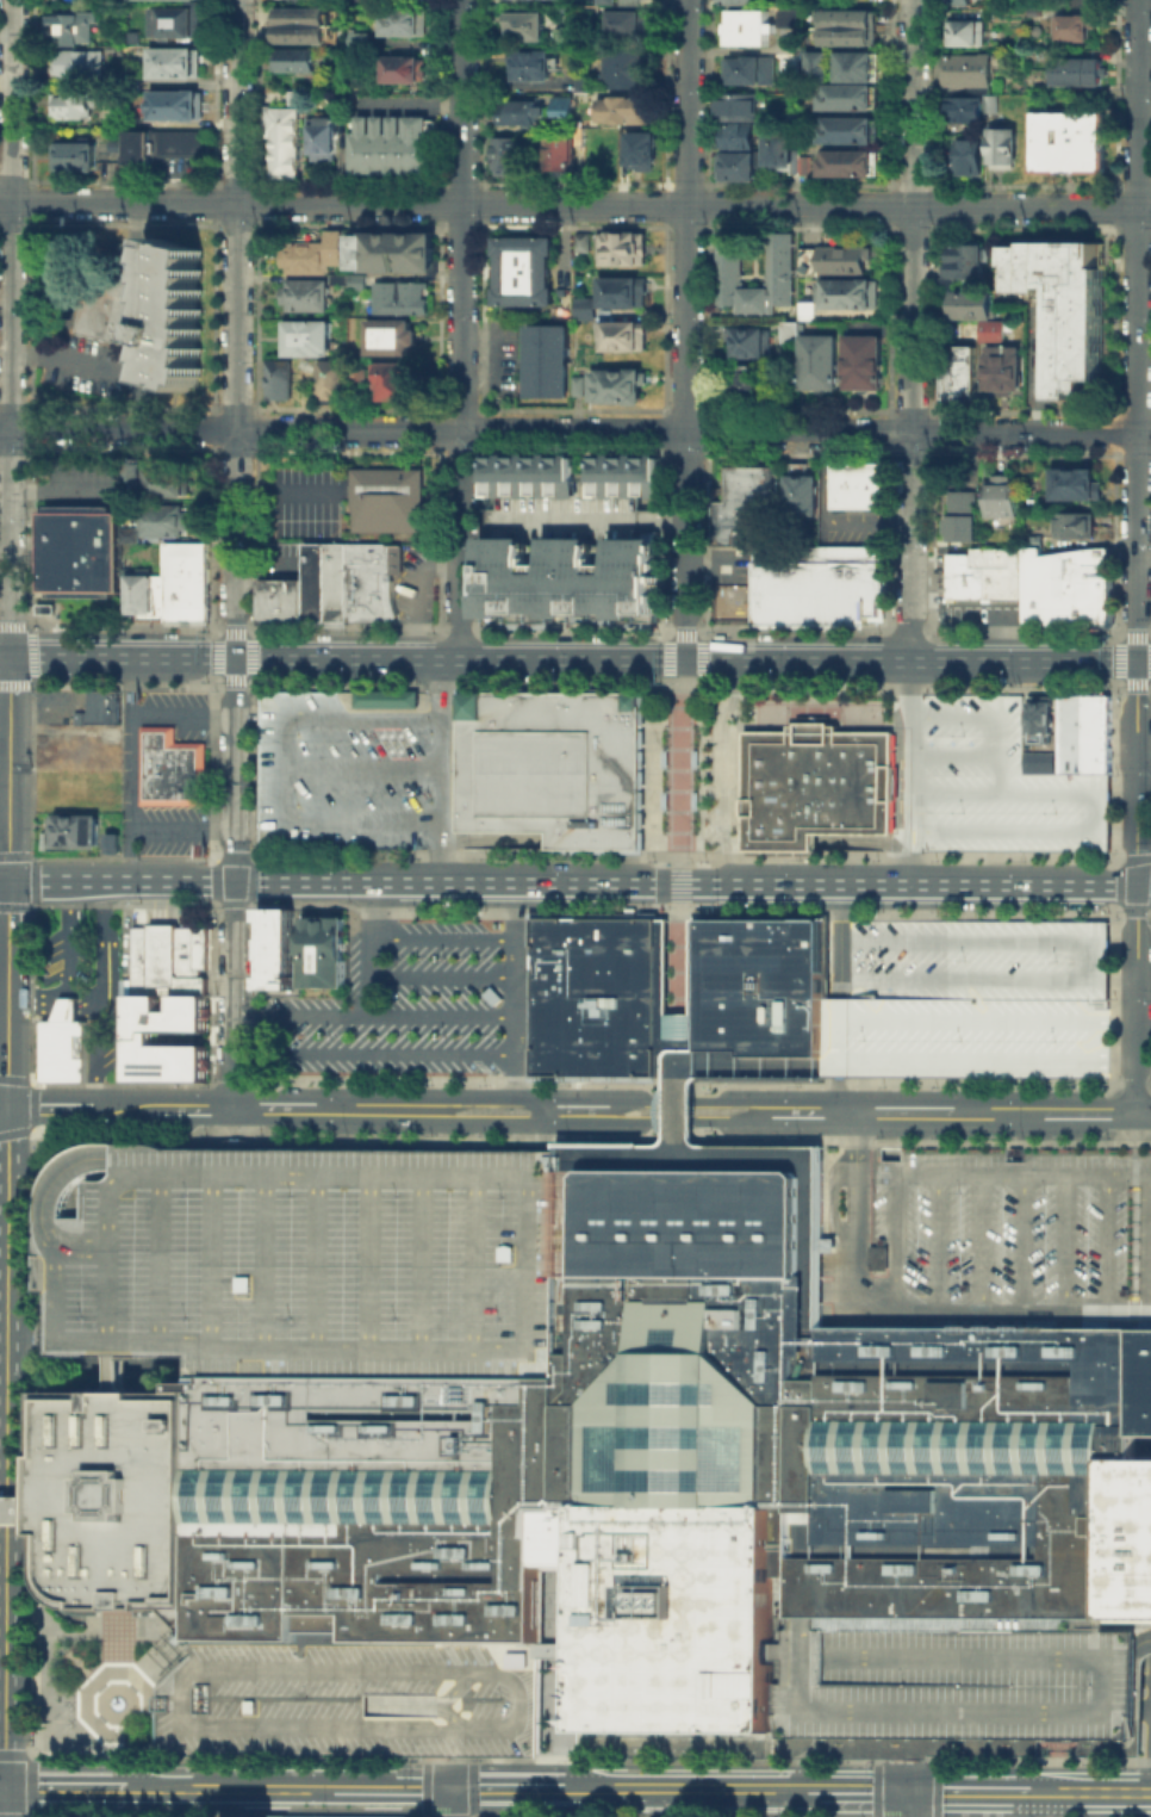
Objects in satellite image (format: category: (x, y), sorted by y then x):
building: (298, 0)
building: (1089, 0)
building: (603, 1)
building: (628, 1)
building: (735, 1)
building: (960, 1)
building: (592, 11)
building: (788, 15)
building: (176, 19)
building: (407, 21)
building: (73, 25)
building: (303, 25)
building: (632, 25)
building: (747, 25)
building: (1072, 25)
building: (527, 27)
building: (850, 30)
building: (964, 31)
building: (131, 36)
building: (363, 41)
building: (114, 48)
building: (174, 61)
building: (77, 62)
building: (295, 62)
building: (816, 64)
building: (853, 64)
building: (531, 66)
building: (622, 67)
building: (968, 69)
building: (1076, 70)
building: (407, 72)
building: (752, 72)
building: (132, 79)
building: (581, 81)
building: (846, 95)
building: (988, 101)
building: (73, 103)
building: (174, 103)
building: (736, 106)
building: (962, 106)
building: (564, 108)
building: (624, 111)
building: (523, 114)
building: (846, 128)
building: (287, 135)
building: (739, 136)
building: (614, 139)
building: (325, 142)
building: (1070, 142)
building: (113, 143)
building: (161, 143)
building: (391, 143)
building: (1001, 145)
building: (780, 147)
building: (643, 149)
building: (73, 154)
building: (560, 155)
building: (966, 155)
building: (509, 159)
building: (845, 161)
parking lot: (176, 166)
building: (738, 167)
road: (185, 168)
road: (574, 204)
road: (11, 213)
road: (137, 235)
building: (581, 240)
building: (621, 247)
building: (392, 250)
building: (315, 252)
building: (778, 259)
building: (833, 259)
building: (964, 260)
building: (521, 268)
building: (356, 280)
building: (942, 283)
building: (559, 290)
building: (621, 290)
building: (847, 291)
building: (398, 294)
building: (306, 296)
road: (57, 303)
building: (972, 303)
building: (1064, 305)
building: (584, 306)
building: (805, 308)
building: (154, 311)
parking lot: (70, 322)
building: (991, 328)
road: (236, 329)
road: (461, 329)
building: (968, 329)
road: (686, 330)
building: (789, 330)
road: (912, 330)
road: (1138, 330)
building: (620, 333)
building: (1019, 334)
building: (394, 337)
building: (311, 339)
building: (747, 340)
parking lot: (1050, 349)
road: (479, 360)
parking lot: (502, 360)
building: (546, 360)
building: (819, 360)
building: (863, 360)
road: (95, 366)
building: (1002, 366)
building: (958, 372)
road: (1043, 372)
building: (281, 378)
building: (332, 382)
building: (397, 382)
building: (746, 383)
building: (577, 384)
building: (616, 384)
road: (4, 427)
road: (579, 429)
road: (962, 452)
building: (133, 469)
parking lot: (958, 472)
road: (471, 475)
building: (164, 479)
building: (1075, 482)
road: (55, 489)
building: (858, 489)
building: (565, 494)
building: (802, 496)
building: (1000, 496)
road: (5, 497)
parking lot: (77, 498)
building: (385, 498)
parking lot: (301, 507)
building: (745, 508)
building: (959, 514)
parking lot: (558, 515)
road: (564, 515)
road: (661, 515)
building: (163, 519)
building: (1072, 522)
building: (129, 532)
building: (1033, 539)
road: (10, 541)
building: (77, 550)
road: (1144, 558)
building: (985, 572)
building: (570, 578)
building: (186, 579)
building: (323, 581)
building: (373, 581)
building: (1065, 584)
building: (816, 585)
parking lot: (413, 587)
building: (145, 594)
building: (279, 600)
parking lot: (970, 601)
road: (1002, 620)
road: (4, 657)
traffic signals: (8, 657)
traffic signals: (235, 659)
road: (579, 659)
traffic signals: (685, 661)
traffic signals: (1137, 662)
parking lot: (56, 711)
building: (94, 711)
road: (185, 715)
road: (991, 717)
building: (1039, 717)
building: (1082, 732)
building: (73, 752)
road: (954, 756)
building: (1037, 759)
building: (552, 764)
building: (342, 767)
parking garage: (342, 767)
road: (8, 768)
road: (136, 769)
road: (722, 769)
road: (287, 770)
road: (365, 770)
road: (441, 770)
road: (910, 771)
building: (170, 773)
road: (1143, 779)
building: (1000, 782)
parking garage: (1000, 782)
building: (816, 787)
road: (1101, 812)
building: (76, 830)
road: (185, 830)
road: (680, 832)
building: (114, 842)
road: (5, 880)
traffic signals: (10, 880)
traffic signals: (234, 881)
road: (580, 882)
traffic signals: (654, 882)
road: (232, 883)
traffic signals: (1137, 885)
road: (1137, 887)
road: (104, 900)
road: (70, 937)
road: (442, 938)
road: (1043, 941)
building: (276, 948)
building: (326, 948)
road: (371, 948)
parking lot: (64, 953)
building: (167, 956)
road: (101, 962)
road: (442, 975)
road: (909, 976)
building: (764, 980)
road: (851, 985)
road: (1089, 986)
road: (515, 988)
road: (8, 993)
building: (603, 993)
road: (68, 994)
building: (976, 997)
parking garage: (976, 997)
road: (840, 998)
road: (978, 998)
parking lot: (397, 1003)
road: (55, 1004)
road: (877, 1005)
road: (1091, 1012)
road: (108, 1013)
road: (69, 1016)
road: (372, 1016)
road: (891, 1017)
road: (1056, 1019)
road: (672, 1029)
road: (686, 1029)
building: (139, 1034)
building: (63, 1050)
road: (373, 1053)
road: (1143, 1055)
road: (720, 1061)
road: (910, 1061)
road: (1056, 1062)
road: (680, 1073)
road: (475, 1096)
road: (583, 1096)
road: (709, 1100)
traffic signals: (8, 1109)
road: (220, 1109)
road: (957, 1112)
road: (680, 1115)
road: (542, 1121)
road: (602, 1123)
road: (231, 1127)
road: (1043, 1173)
road: (809, 1183)
road: (7, 1205)
road: (1134, 1220)
road: (896, 1221)
building: (985, 1234)
parking lot: (985, 1234)
road: (937, 1241)
road: (979, 1241)
road: (1021, 1241)
road: (1066, 1241)
road: (1106, 1242)
road: (1150, 1242)
building: (305, 1257)
parking lot: (305, 1257)
road: (903, 1310)
road: (29, 1337)
building: (1141, 1445)
road: (4, 1449)
building: (629, 1463)
building: (19, 1508)
road: (19, 1508)
road: (6, 1544)
road: (1141, 1641)
road: (102, 1676)
building: (946, 1678)
parking lot: (946, 1678)
building: (351, 1698)
parking lot: (351, 1698)
fountain: (117, 1701)
road: (1150, 1744)
road: (36, 1749)
road: (1149, 1750)
road: (18, 1754)
road: (31, 1771)
road: (449, 1772)
road: (906, 1773)
road: (2, 1786)
traffic signals: (6, 1786)
road: (66, 1787)
road: (231, 1787)
road: (392, 1788)
traffic signals: (449, 1788)
road: (506, 1788)
road: (686, 1788)
road: (857, 1790)
road: (876, 1790)
traffic signals: (906, 1790)
road: (968, 1790)
road: (1044, 1791)
road: (1105, 1791)
road: (6, 1802)
road: (449, 1803)
road: (473, 1803)
road: (906, 1803)
road: (1047, 1804)
road: (890, 1811)
road: (2, 1816)
building: (344, 1816)

